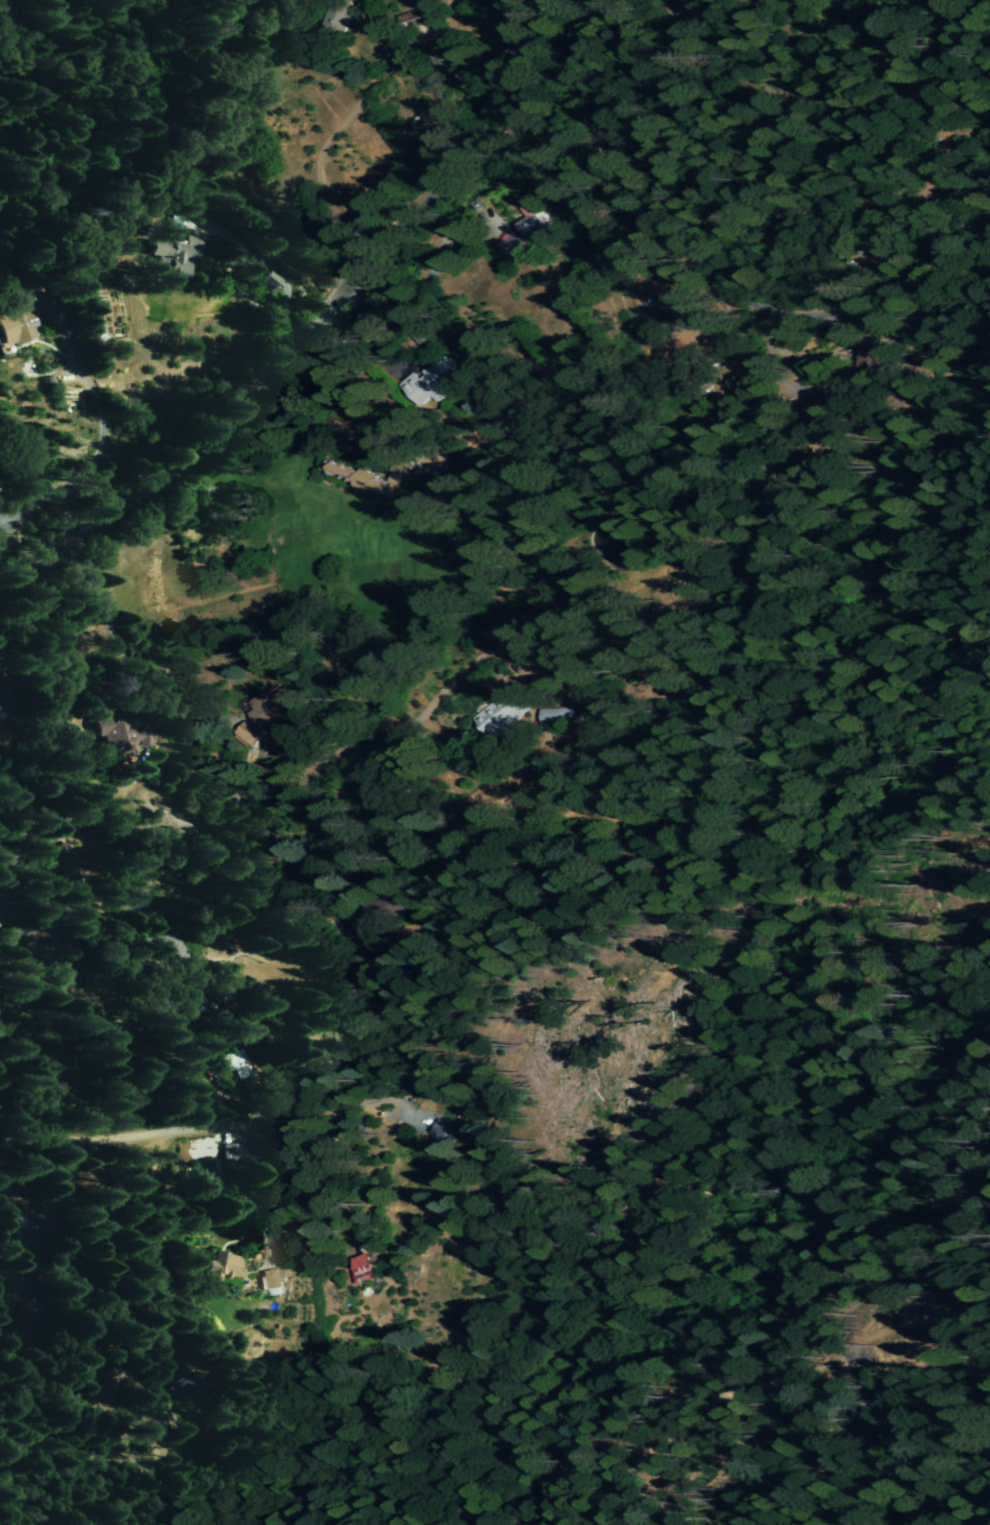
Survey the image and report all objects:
building: (694, 7)
road: (541, 61)
road: (326, 139)
building: (534, 222)
building: (509, 245)
building: (166, 258)
road: (241, 279)
road: (737, 291)
building: (15, 327)
road: (268, 369)
building: (427, 381)
building: (369, 479)
building: (503, 711)
building: (120, 735)
road: (257, 823)
road: (48, 1100)
road: (225, 1118)
building: (446, 1135)
building: (229, 1165)
building: (219, 1267)
building: (364, 1268)
building: (270, 1279)

